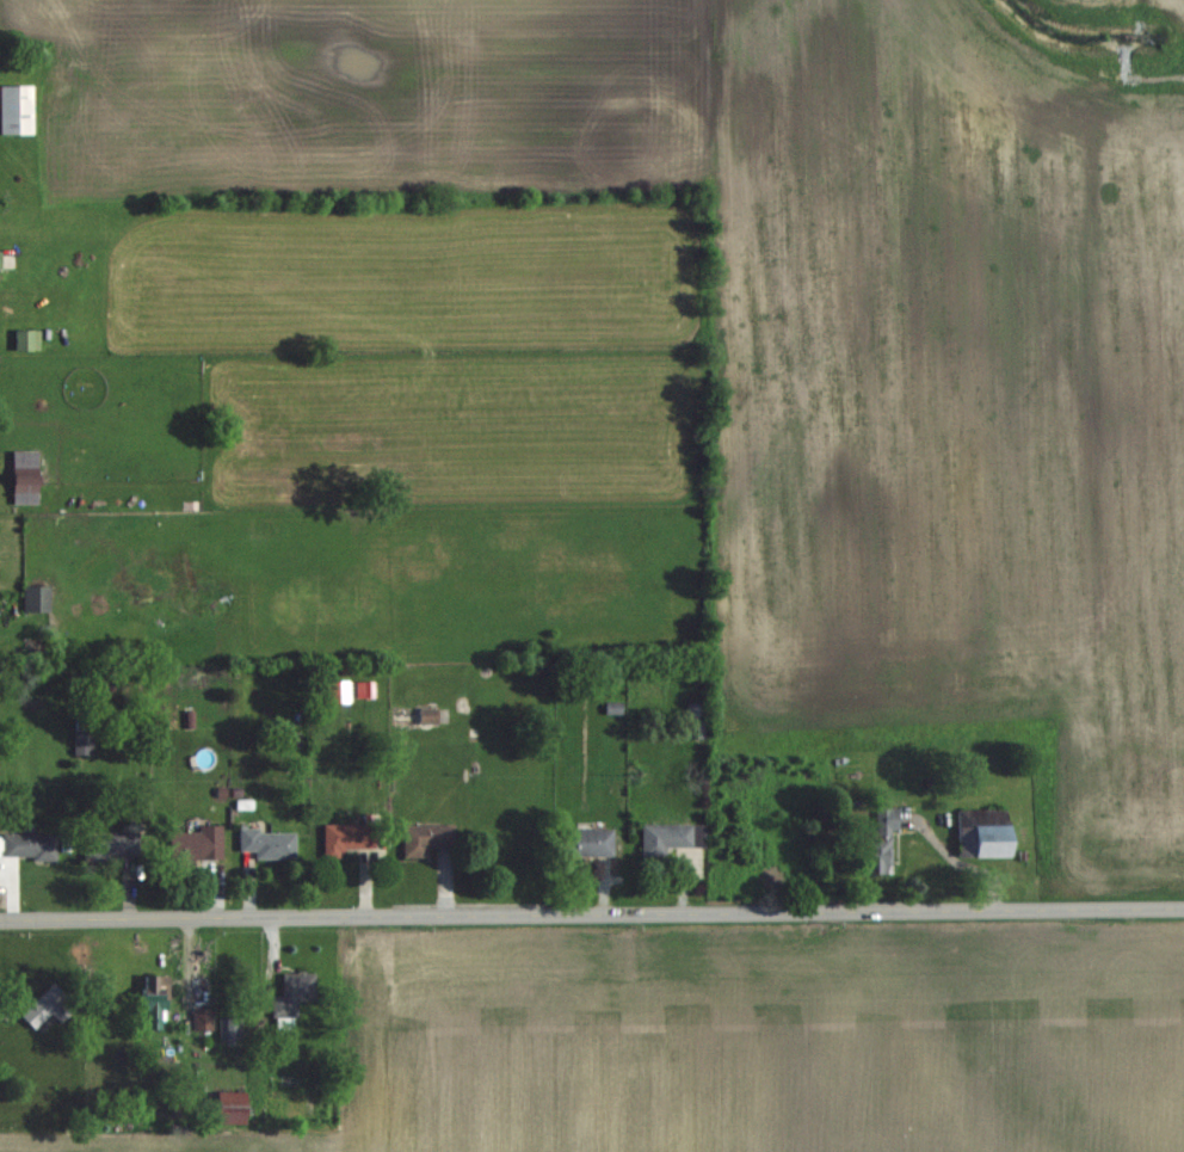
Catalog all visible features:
building: (16, 111)
building: (26, 340)
building: (25, 458)
building: (25, 488)
building: (37, 598)
building: (613, 709)
building: (428, 716)
building: (697, 720)
building: (82, 744)
building: (982, 832)
building: (349, 837)
building: (665, 838)
building: (426, 839)
building: (587, 842)
building: (196, 843)
building: (880, 843)
building: (269, 844)
building: (29, 845)
building: (110, 845)
road: (592, 917)
building: (292, 993)
building: (154, 999)
building: (47, 1006)
building: (203, 1018)
building: (230, 1027)
building: (229, 1107)

